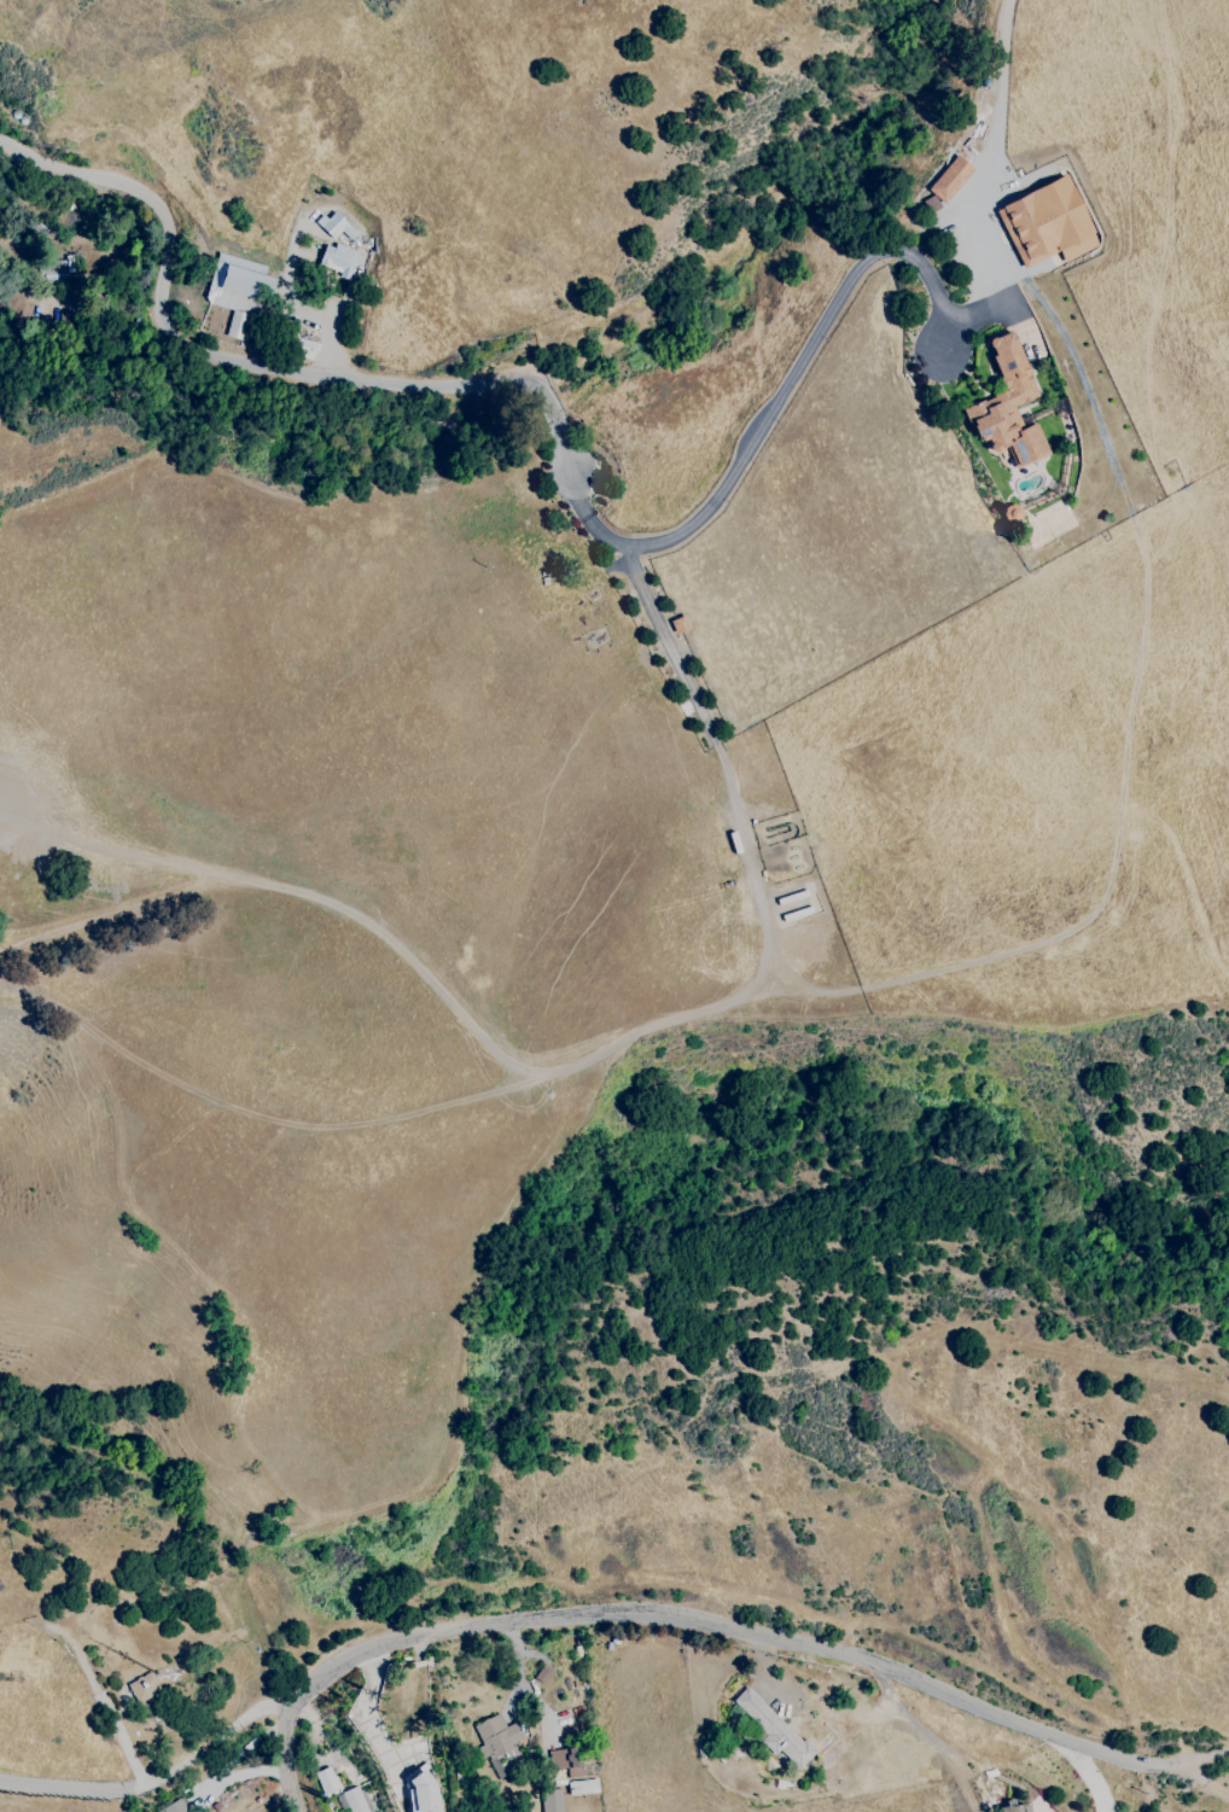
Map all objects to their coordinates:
building: (949, 179)
building: (1047, 223)
building: (334, 226)
building: (337, 260)
building: (1007, 406)
road: (557, 425)
road: (666, 646)
road: (474, 1032)
road: (674, 1615)
road: (520, 1667)
building: (144, 1688)
road: (542, 1705)
building: (771, 1729)
building: (499, 1735)
road: (1193, 1760)
building: (565, 1763)
road: (238, 1777)
road: (1088, 1777)
road: (157, 1779)
building: (325, 1779)
road: (1205, 1781)
building: (421, 1794)
building: (356, 1800)
building: (551, 1800)
building: (173, 1807)
building: (1019, 1807)

